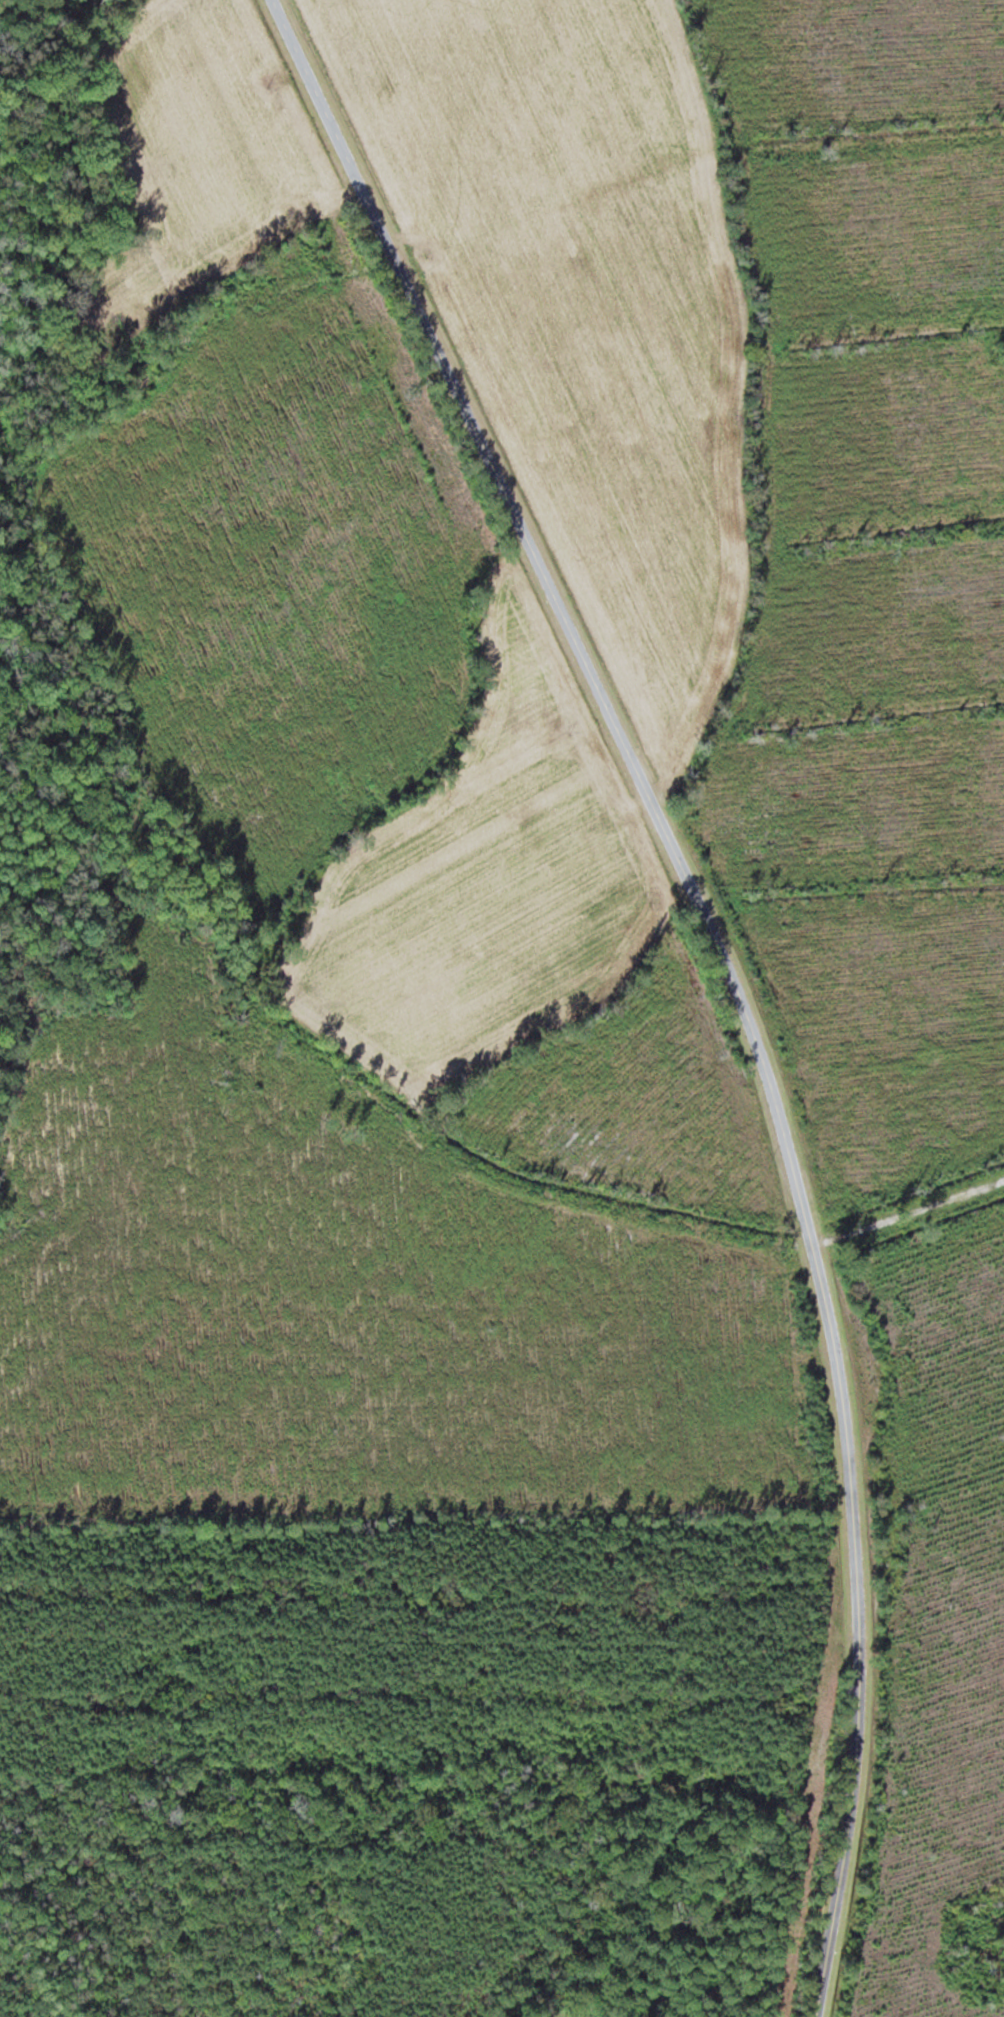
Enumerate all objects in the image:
road: (729, 968)
road: (914, 1223)

